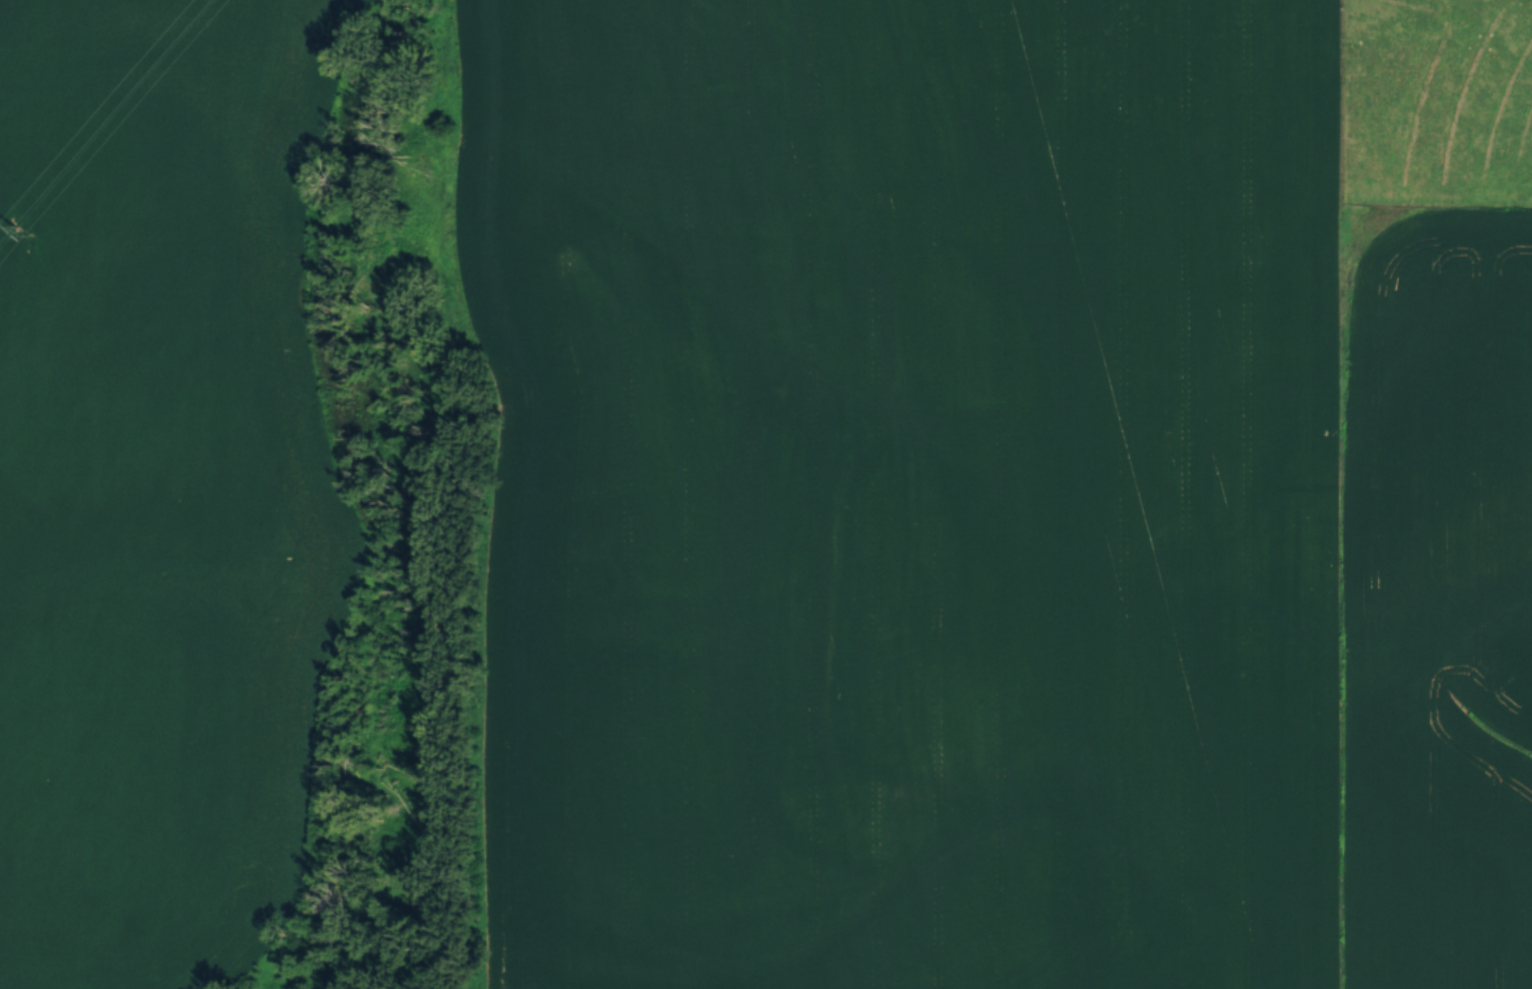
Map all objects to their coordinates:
power tower: (19, 235)

